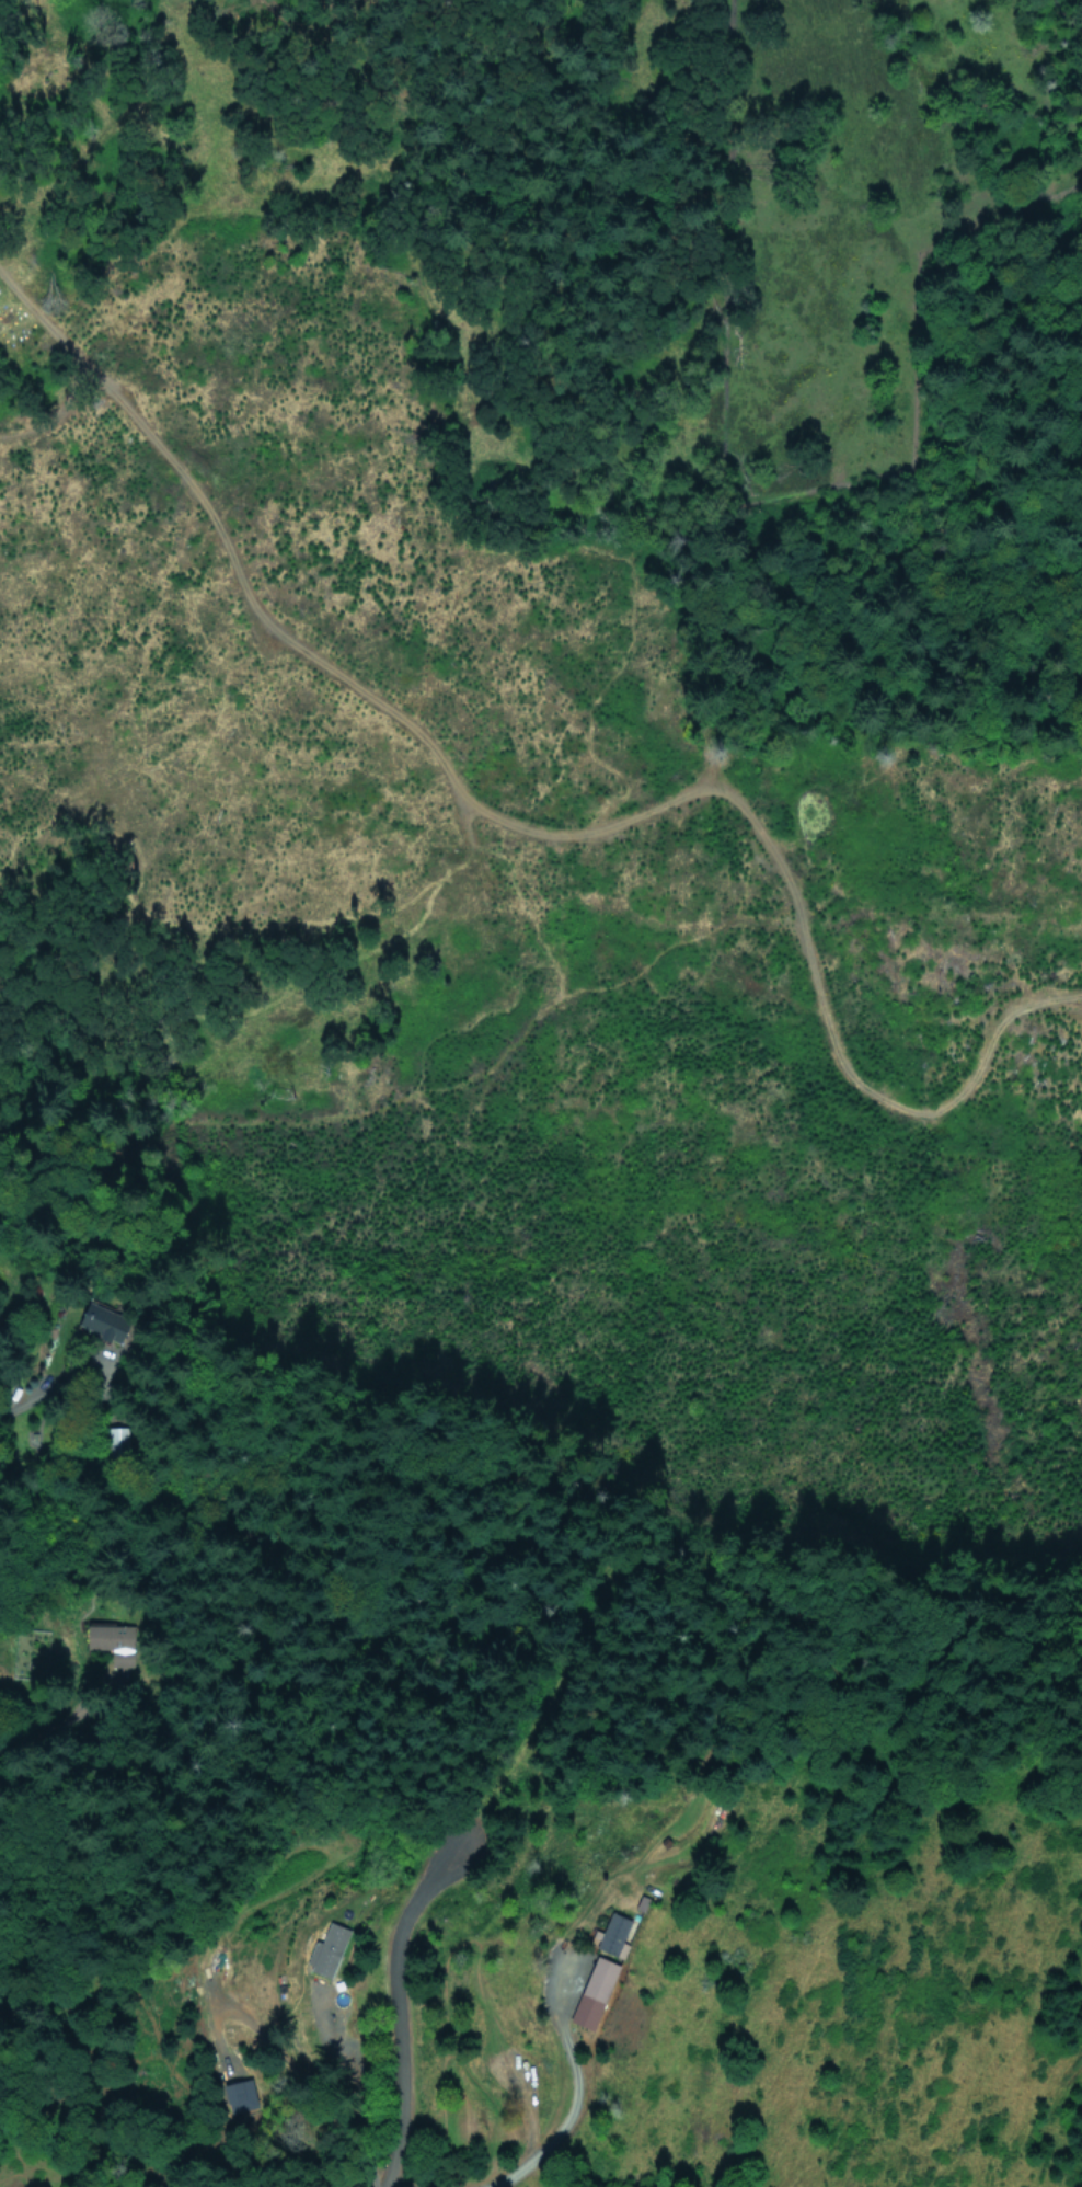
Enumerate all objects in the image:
building: (104, 1321)
building: (112, 1438)
building: (110, 1637)
building: (613, 1934)
building: (326, 1949)
building: (594, 1991)
road: (400, 2011)
building: (240, 2095)
road: (562, 2127)
road: (396, 2183)

